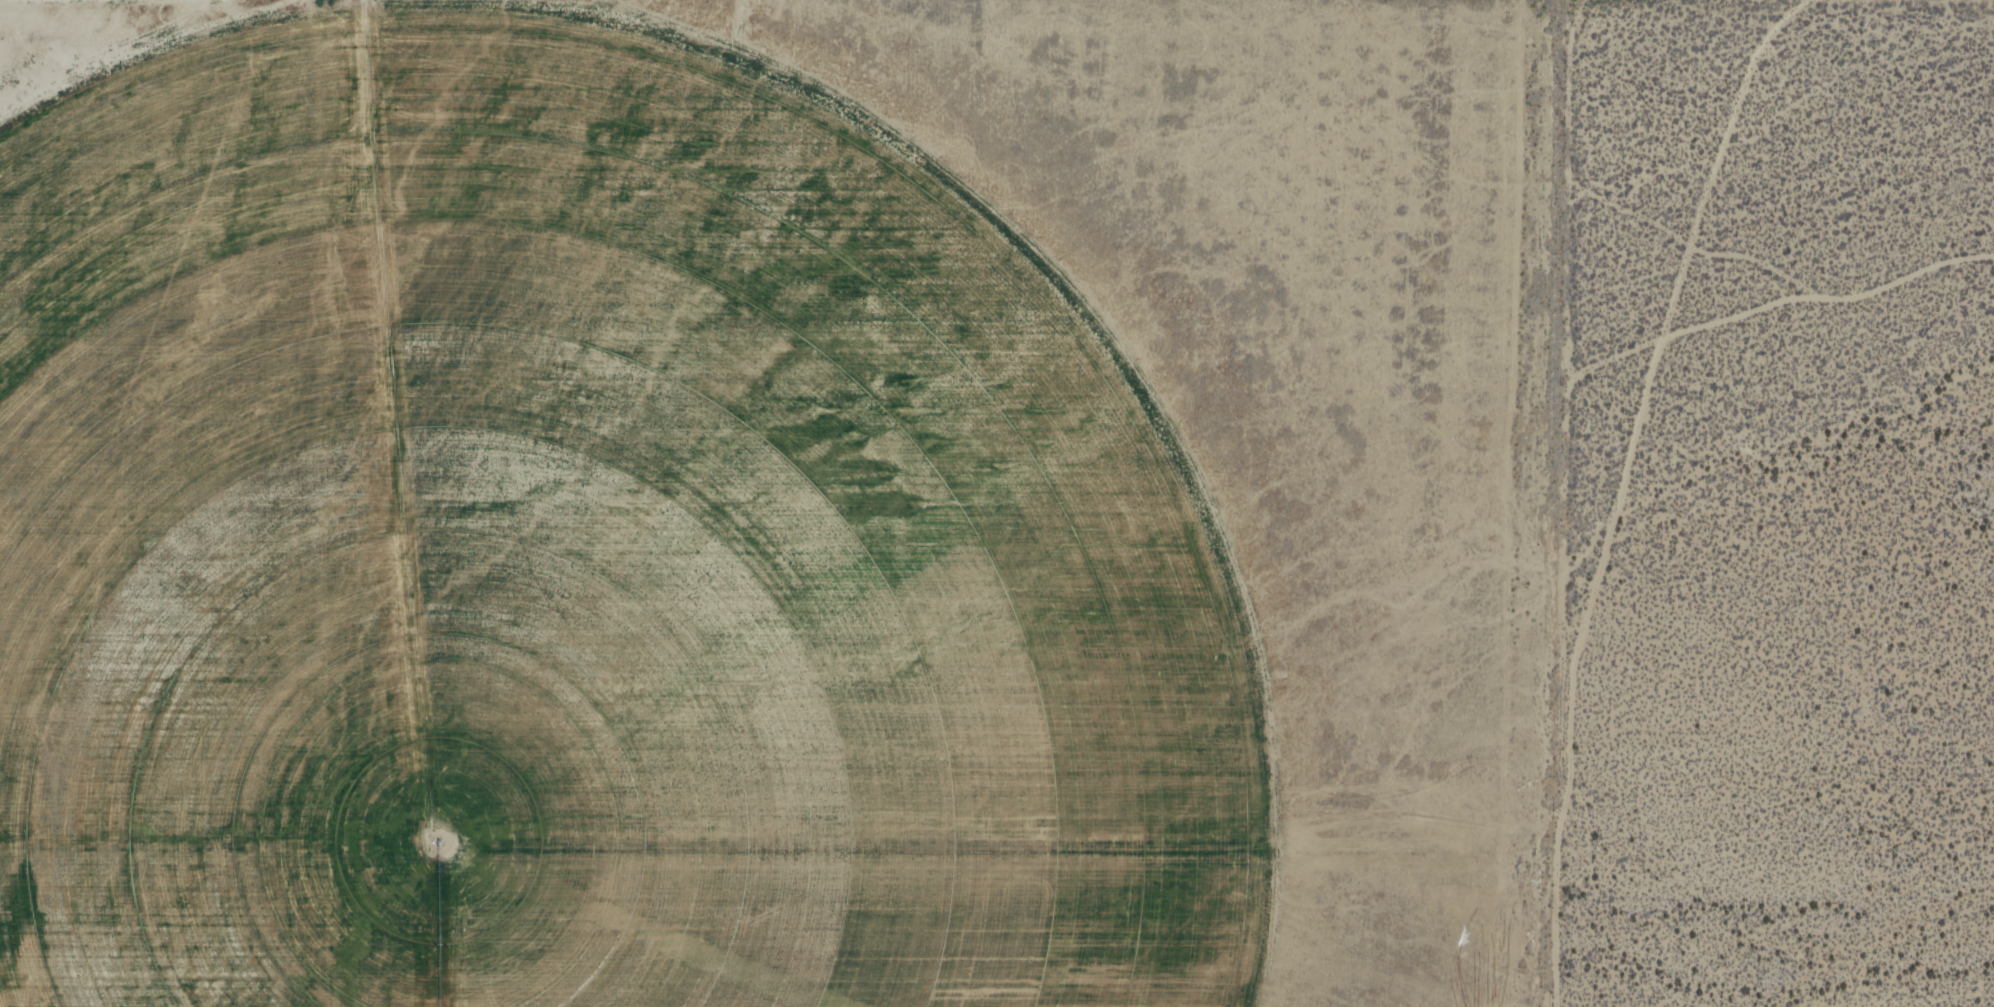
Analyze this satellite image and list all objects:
road: (1991, 0)
road: (152, 1)
road: (1671, 314)
road: (1137, 369)
road: (1561, 475)
crop: (710, 551)

